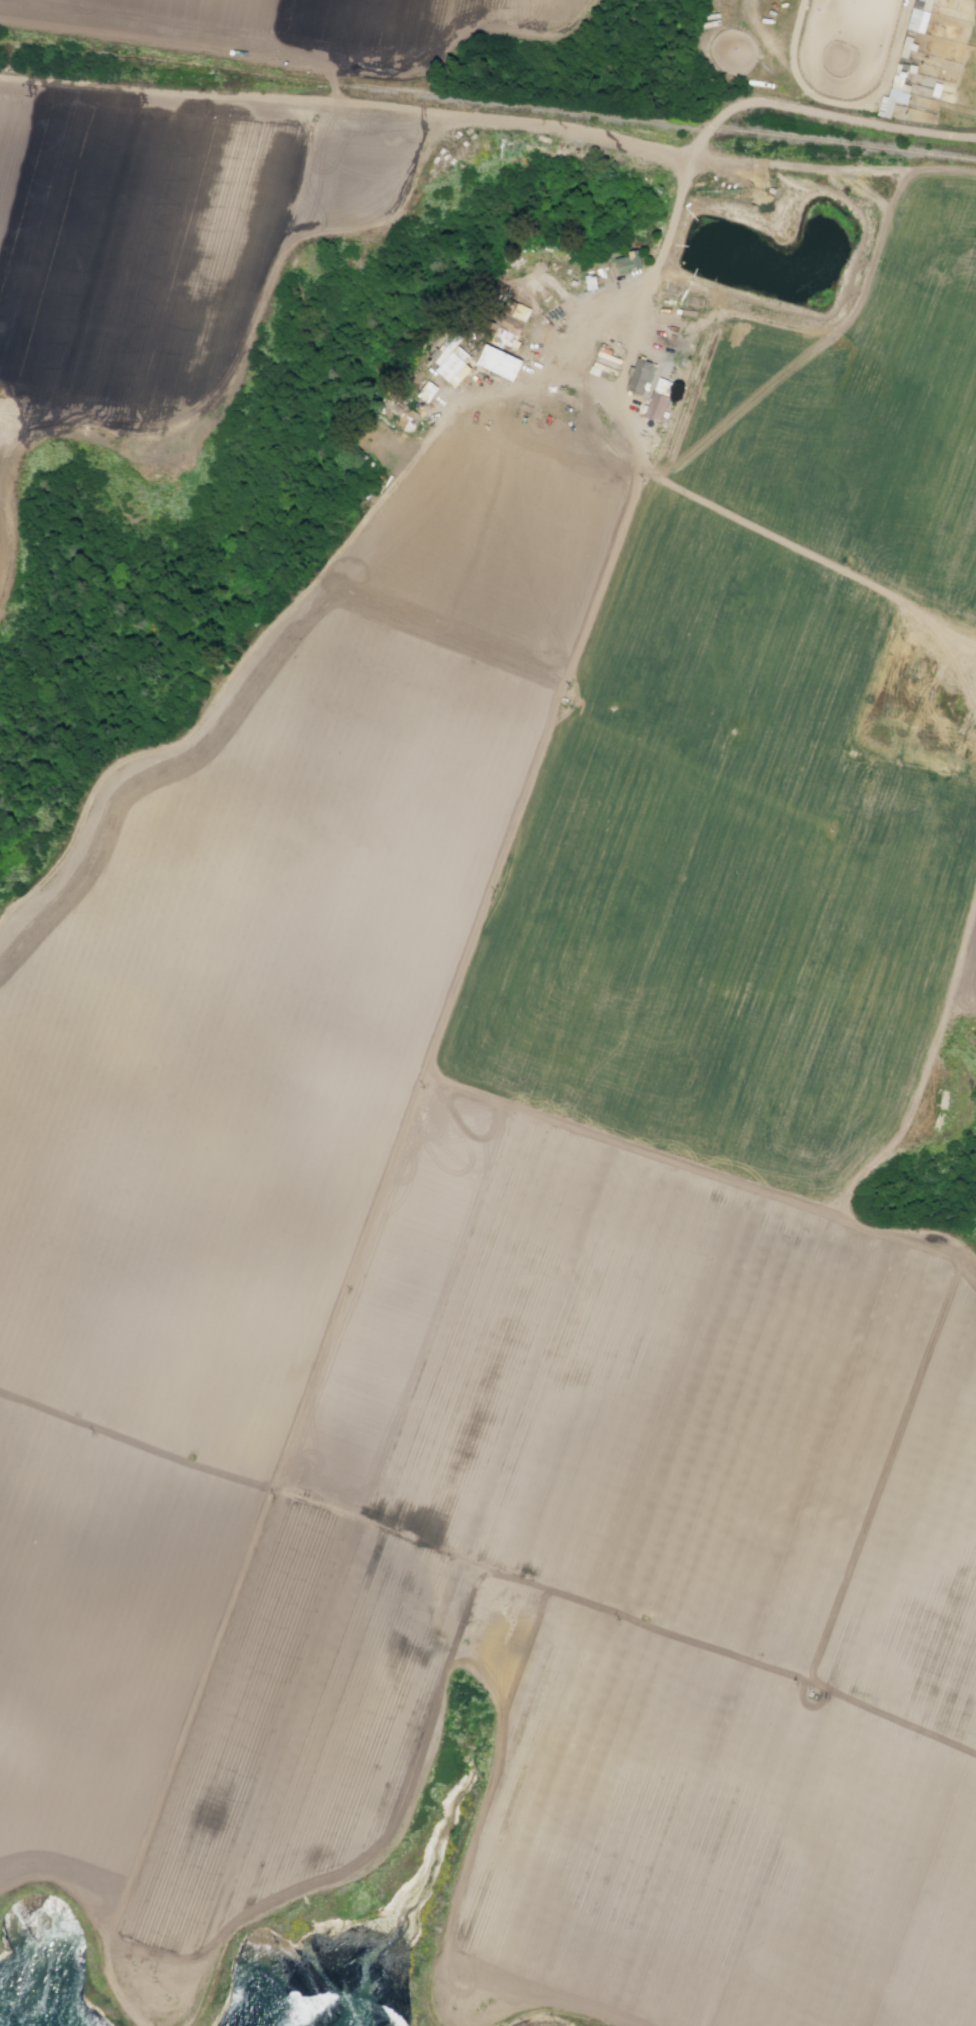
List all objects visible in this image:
building: (919, 15)
crop: (294, 24)
building: (907, 45)
crop: (800, 64)
road: (315, 69)
road: (333, 86)
building: (893, 95)
road: (257, 96)
railway: (487, 100)
road: (832, 170)
road: (680, 193)
crop: (158, 237)
building: (633, 262)
road: (271, 275)
building: (510, 326)
building: (451, 360)
building: (499, 362)
building: (645, 378)
building: (661, 409)
building: (405, 416)
road: (14, 432)
road: (1, 500)
crop: (2, 540)
road: (809, 553)
road: (282, 621)
road: (940, 651)
road: (534, 773)
road: (924, 1064)
road: (626, 1141)
crop: (514, 1151)
road: (903, 1236)
road: (270, 1502)
road: (488, 1572)
road: (443, 1678)
road: (104, 1920)
road: (561, 2013)

